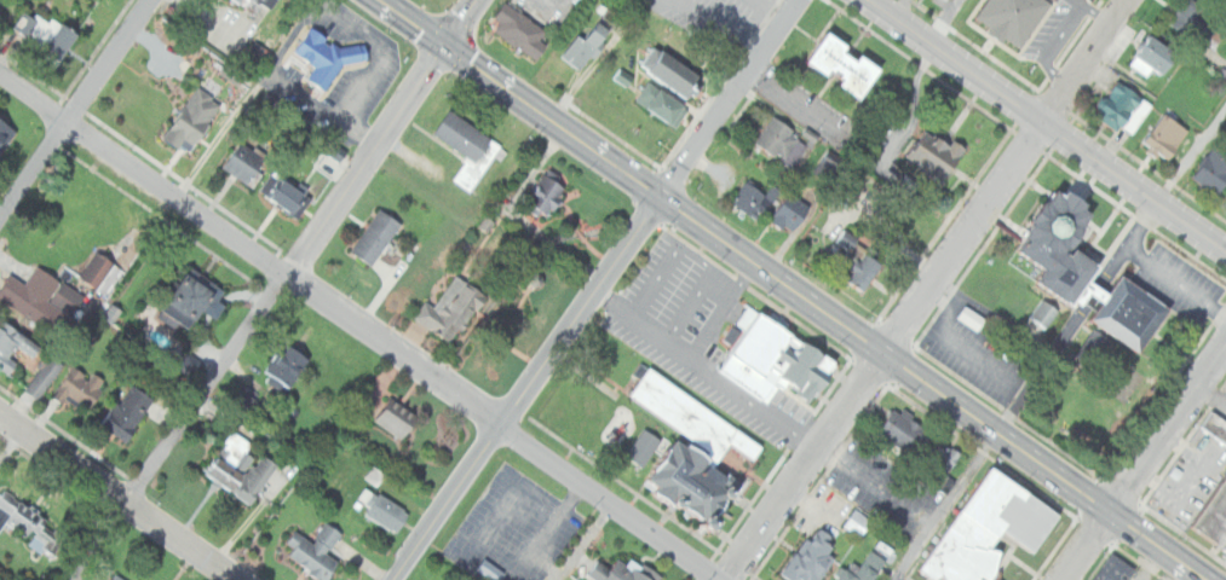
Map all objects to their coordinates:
building: (244, 1)
building: (270, 2)
building: (1007, 18)
building: (1190, 19)
building: (1224, 24)
building: (38, 30)
building: (524, 31)
building: (592, 41)
building: (67, 42)
traffic signals: (444, 48)
building: (329, 57)
building: (1152, 57)
road: (1086, 58)
building: (833, 64)
building: (675, 71)
building: (664, 104)
road: (74, 106)
building: (1122, 108)
building: (196, 121)
road: (1051, 122)
building: (6, 134)
building: (1164, 135)
building: (784, 140)
building: (470, 147)
building: (928, 153)
building: (248, 162)
building: (829, 164)
building: (1213, 168)
building: (549, 193)
building: (288, 195)
building: (758, 197)
building: (795, 211)
building: (379, 234)
building: (850, 238)
road: (687, 250)
road: (304, 253)
building: (100, 267)
building: (871, 268)
building: (1090, 272)
road: (1176, 279)
road: (591, 289)
road: (790, 291)
building: (45, 296)
building: (197, 298)
building: (456, 306)
road: (690, 306)
building: (974, 317)
road: (1075, 317)
road: (361, 325)
building: (15, 343)
road: (677, 347)
road: (882, 347)
building: (781, 362)
building: (289, 366)
building: (45, 375)
building: (81, 387)
road: (753, 404)
building: (131, 411)
building: (399, 417)
building: (1214, 425)
building: (903, 429)
building: (643, 446)
building: (692, 447)
road: (1141, 462)
building: (940, 463)
building: (244, 468)
building: (376, 475)
road: (119, 498)
road: (945, 506)
building: (388, 511)
building: (1213, 517)
building: (30, 521)
building: (857, 522)
building: (989, 530)
building: (320, 550)
building: (812, 556)
building: (864, 568)
building: (494, 569)
building: (1113, 569)
building: (626, 570)
building: (120, 576)

